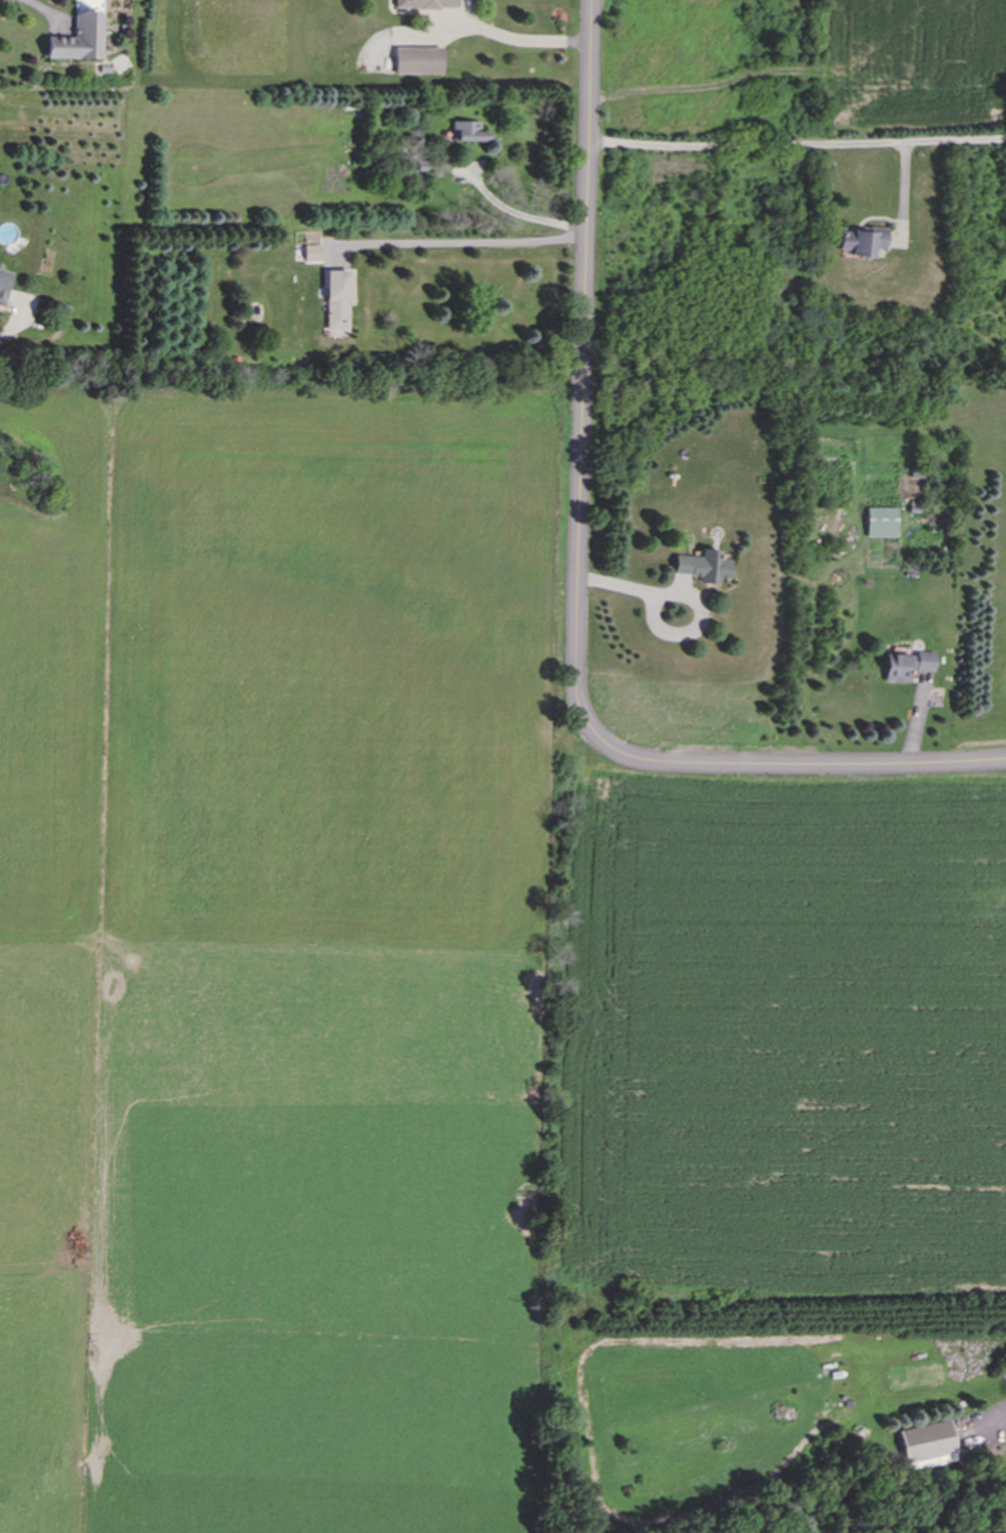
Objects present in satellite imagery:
building: (424, 4)
road: (40, 7)
building: (79, 34)
road: (515, 38)
building: (417, 60)
crop: (914, 65)
building: (467, 131)
road: (798, 145)
road: (517, 212)
road: (467, 241)
building: (861, 241)
building: (312, 254)
building: (4, 285)
building: (338, 297)
road: (11, 327)
building: (880, 522)
building: (702, 566)
road: (577, 579)
road: (689, 598)
building: (905, 665)
crop: (278, 956)
crop: (779, 1040)
building: (928, 1445)

